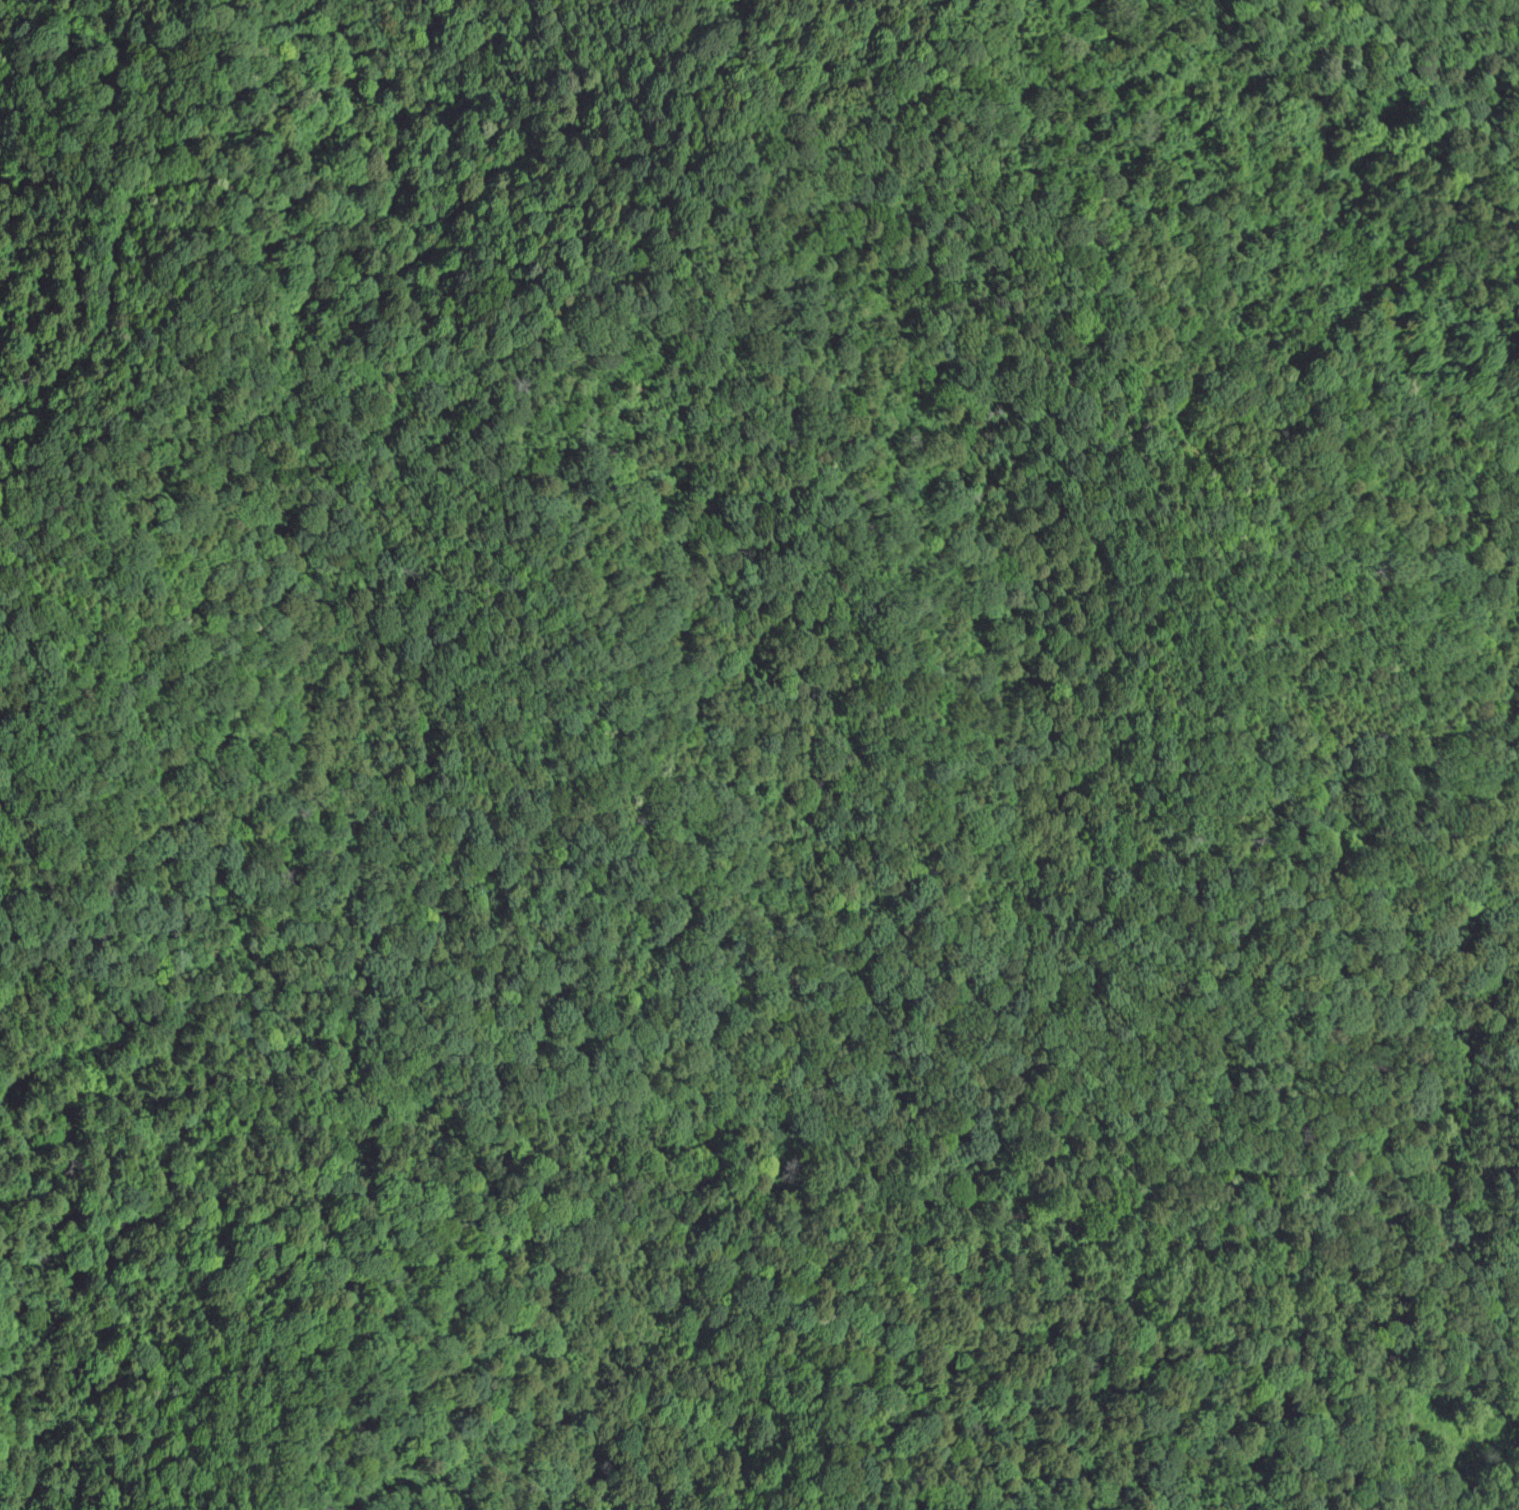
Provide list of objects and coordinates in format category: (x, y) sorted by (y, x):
road: (852, 1068)

